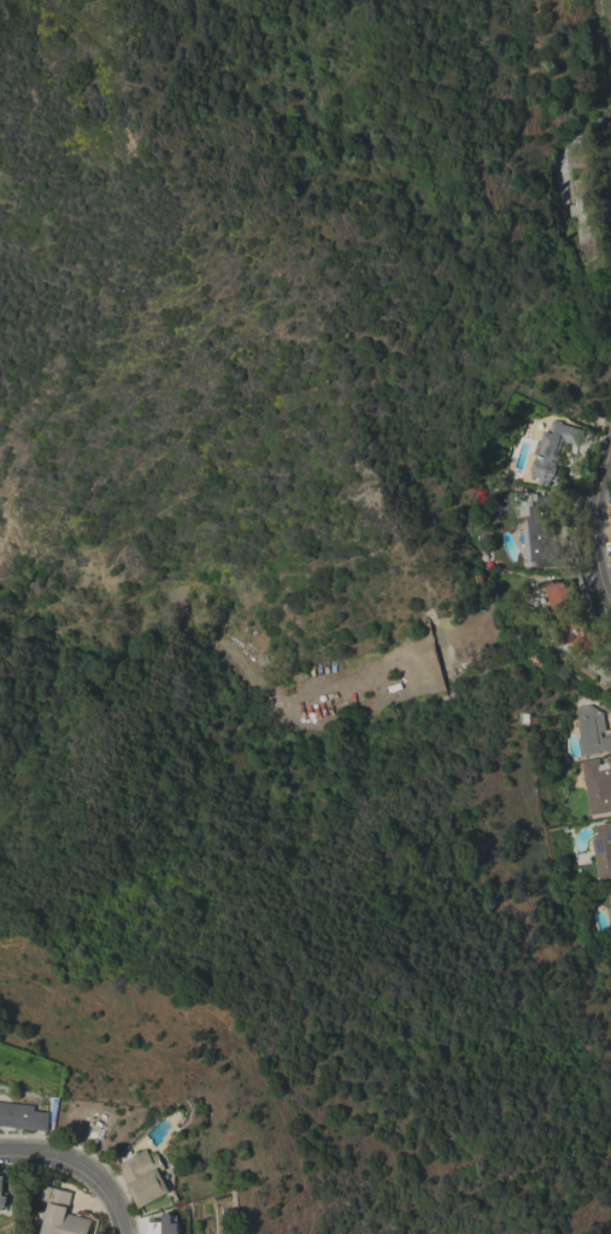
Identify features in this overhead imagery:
road: (607, 42)
road: (566, 142)
building: (583, 197)
building: (553, 451)
road: (594, 528)
building: (539, 530)
building: (571, 619)
building: (535, 659)
building: (592, 732)
building: (598, 786)
building: (603, 852)
building: (609, 905)
building: (23, 1117)
road: (80, 1168)
building: (145, 1179)
building: (2, 1195)
building: (60, 1213)
building: (164, 1228)

